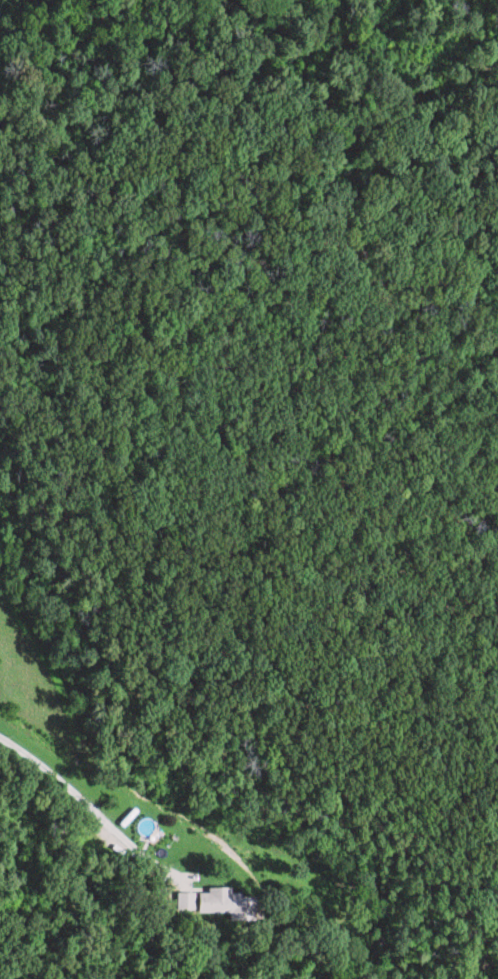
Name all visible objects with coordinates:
building: (222, 900)

